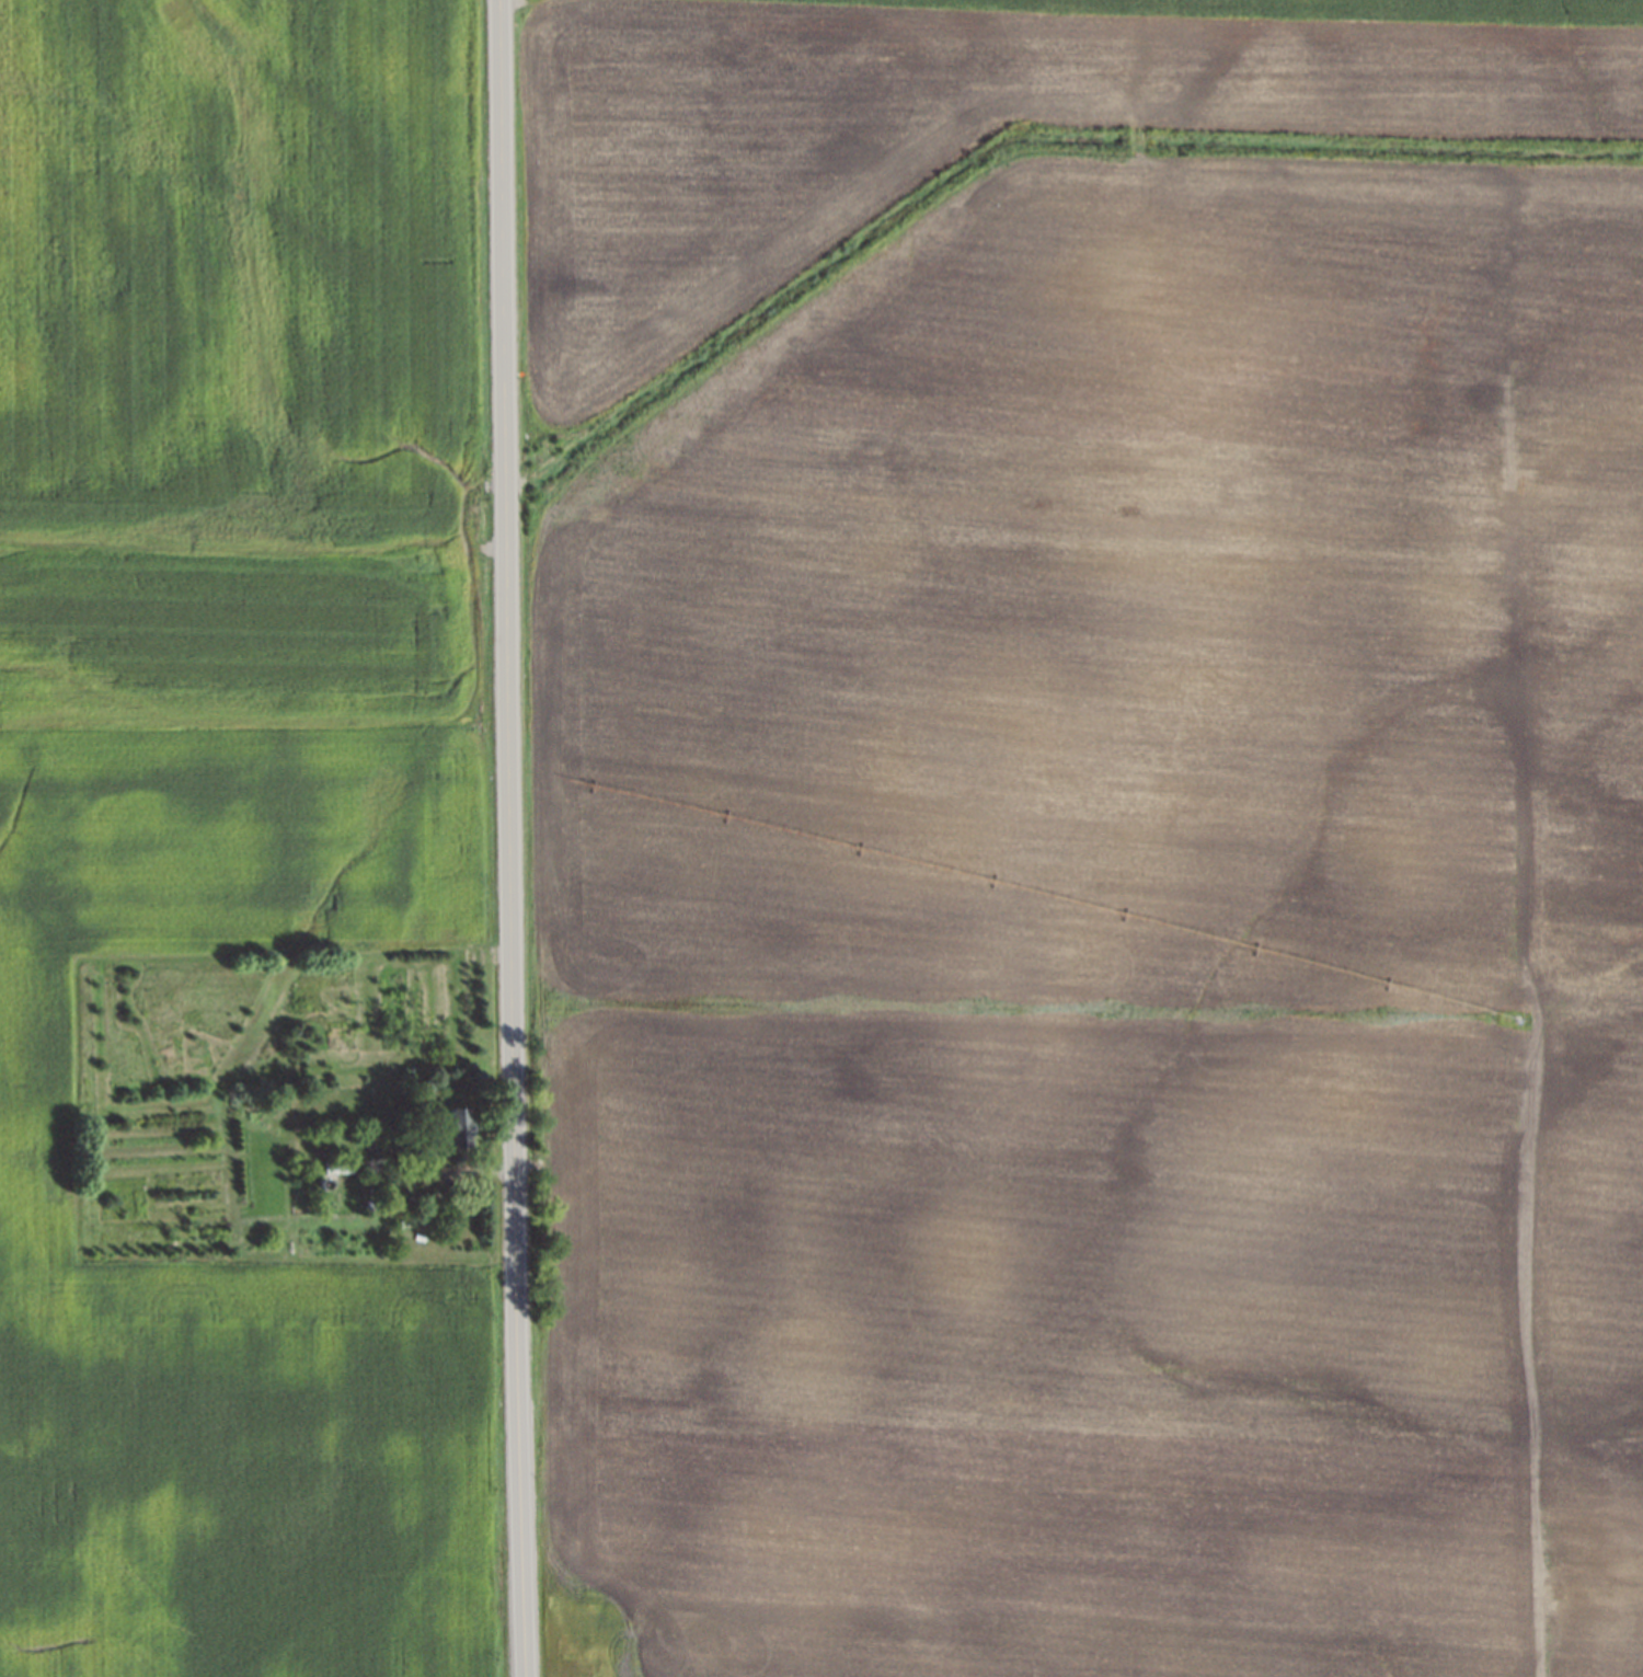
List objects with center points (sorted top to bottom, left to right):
crop: (1232, 9)
crop: (931, 135)
crop: (223, 256)
crop: (226, 627)
road: (508, 838)
crop: (1579, 896)
crop: (1046, 961)
crop: (28, 1110)
building: (452, 1127)
building: (418, 1138)
building: (333, 1164)
building: (315, 1184)
building: (371, 1186)
building: (365, 1204)
building: (413, 1216)

